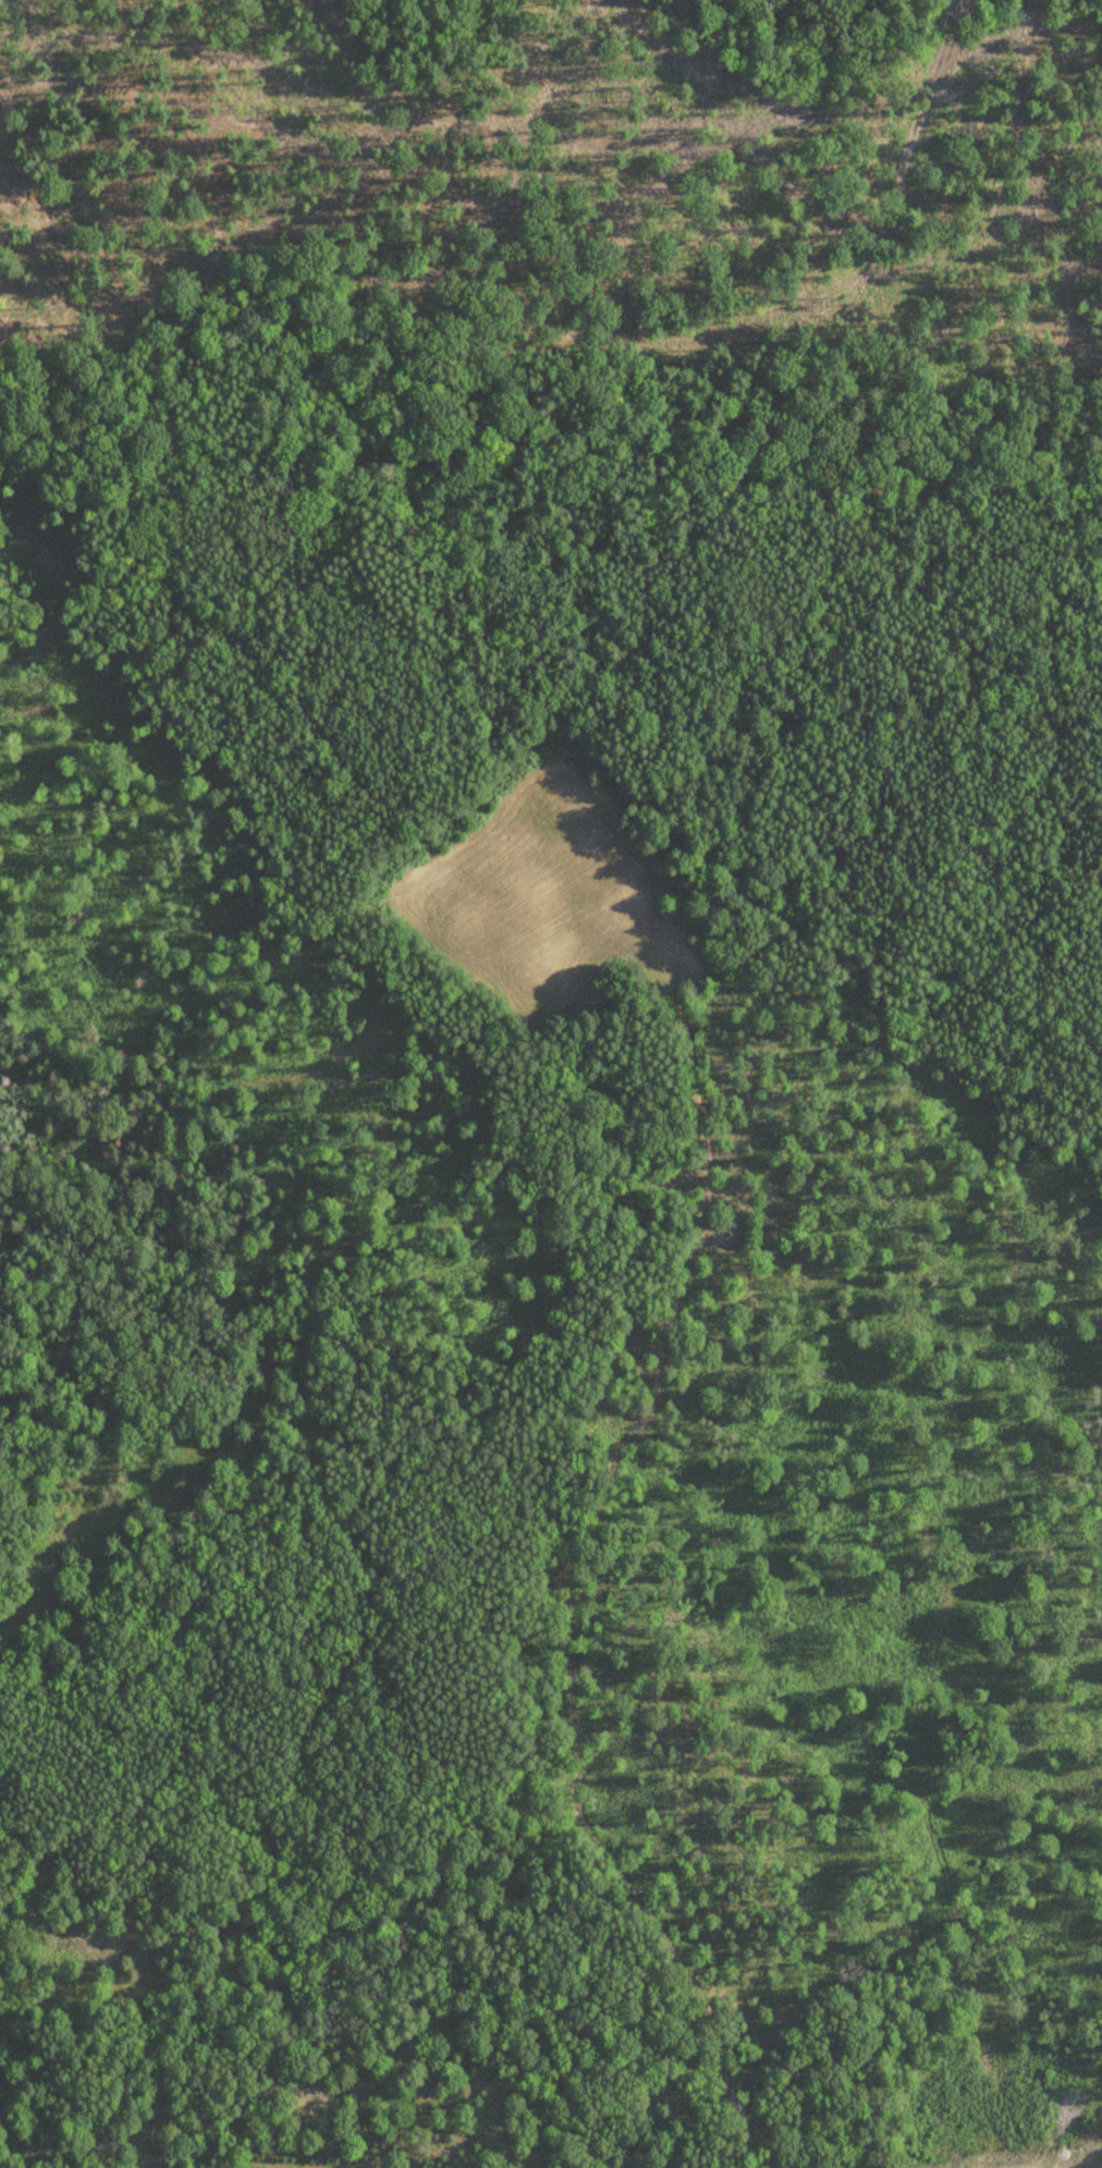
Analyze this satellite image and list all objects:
road: (549, 446)
road: (917, 479)
road: (658, 1377)
road: (1041, 2164)

